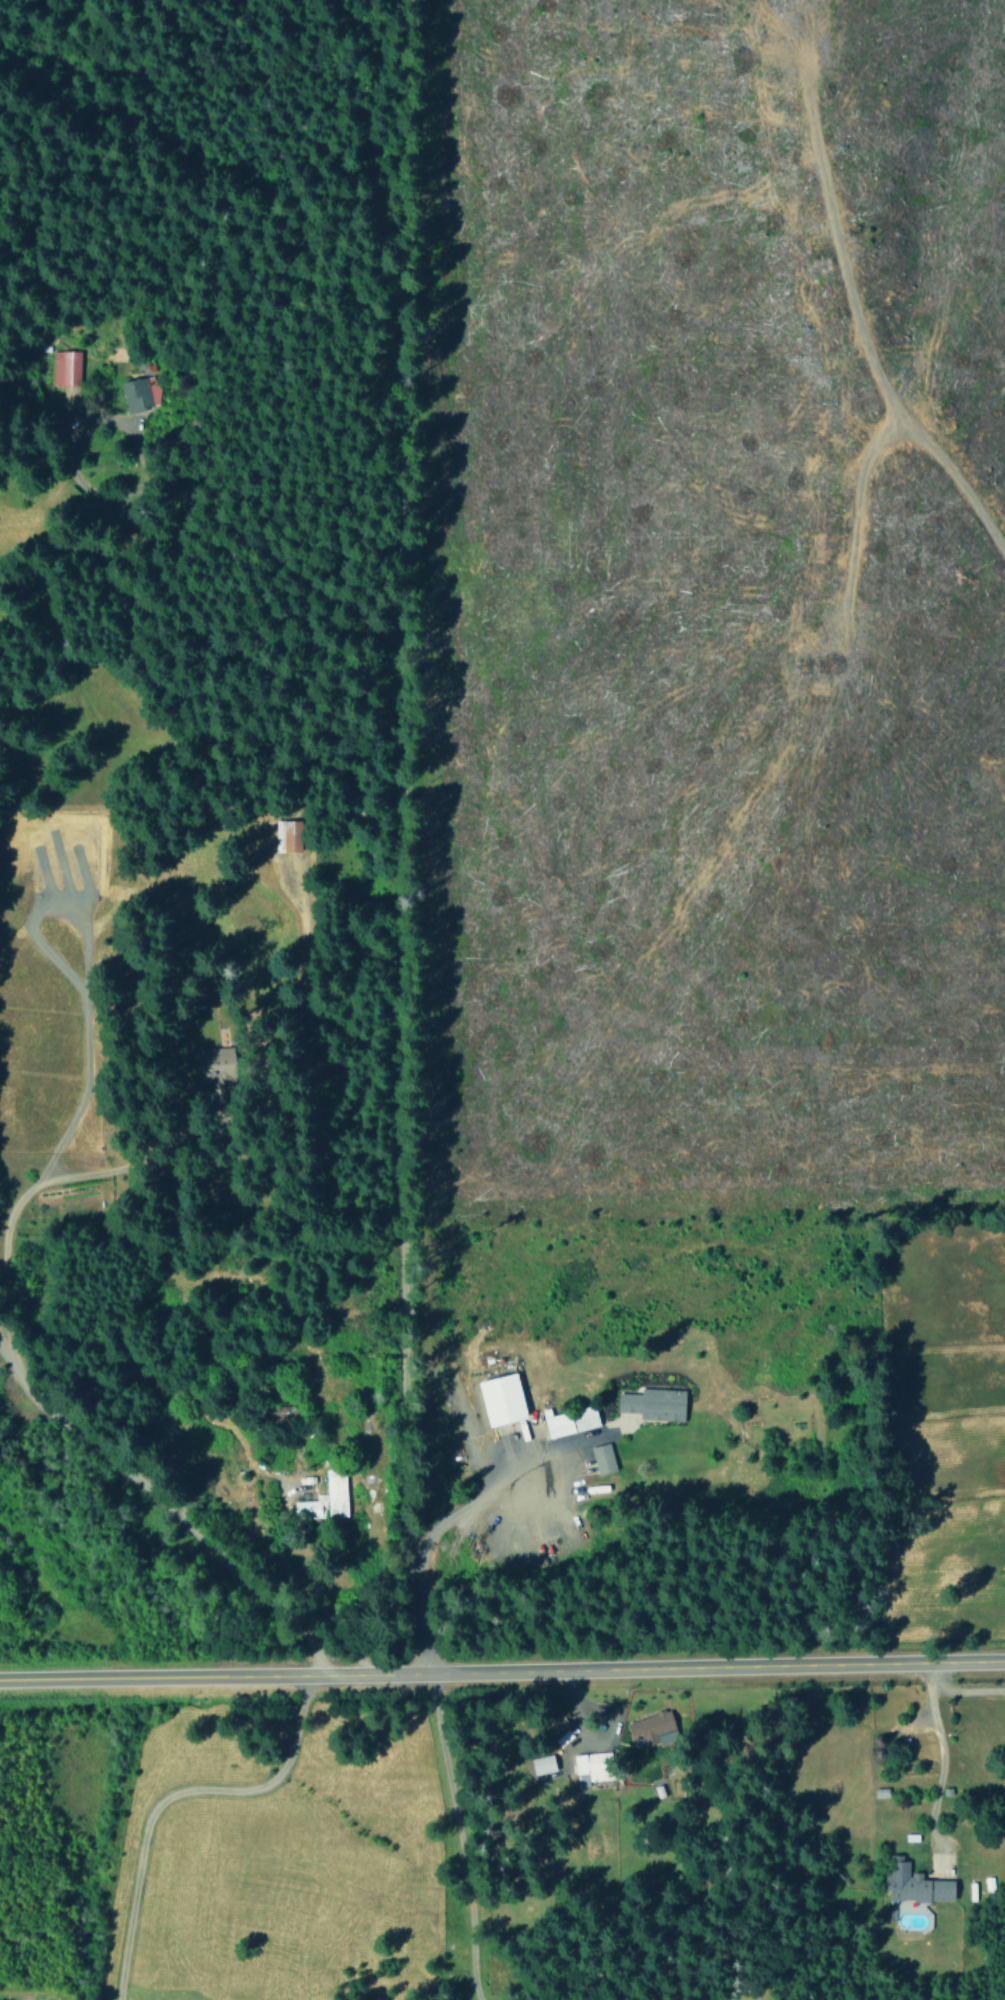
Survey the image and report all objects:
building: (66, 367)
building: (140, 393)
road: (196, 505)
building: (288, 834)
road: (422, 1002)
building: (217, 1068)
road: (11, 1204)
road: (351, 1346)
building: (503, 1399)
building: (654, 1404)
building: (570, 1421)
road: (247, 1453)
road: (476, 1455)
building: (603, 1458)
building: (336, 1493)
road: (173, 1507)
building: (311, 1507)
road: (502, 1676)
road: (962, 1691)
building: (652, 1730)
road: (941, 1759)
building: (543, 1764)
building: (593, 1766)
building: (914, 1883)

